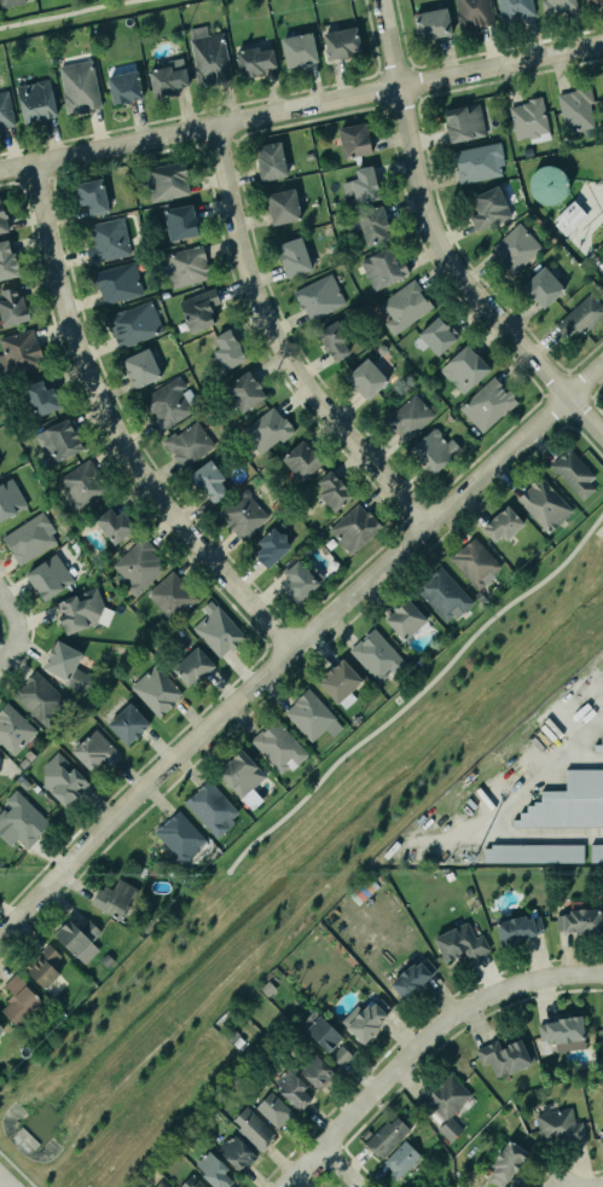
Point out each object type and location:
building: (592, 1)
building: (10, 2)
building: (558, 6)
building: (515, 8)
building: (471, 12)
road: (62, 13)
park: (75, 15)
building: (433, 24)
road: (400, 33)
road: (370, 35)
park: (365, 37)
building: (340, 41)
building: (296, 48)
building: (207, 54)
building: (251, 59)
road: (410, 66)
road: (377, 71)
road: (370, 74)
building: (168, 77)
building: (77, 85)
building: (124, 87)
building: (36, 100)
road: (301, 106)
building: (574, 109)
building: (5, 110)
building: (528, 118)
building: (464, 122)
building: (354, 140)
building: (268, 160)
building: (477, 162)
building: (166, 181)
building: (363, 184)
building: (547, 185)
building: (92, 195)
building: (283, 207)
building: (488, 209)
building: (569, 218)
building: (2, 219)
building: (179, 220)
building: (369, 222)
building: (106, 239)
road: (439, 244)
building: (516, 248)
building: (294, 256)
building: (7, 261)
road: (595, 262)
building: (185, 264)
building: (383, 268)
building: (117, 283)
building: (543, 286)
building: (319, 296)
building: (11, 306)
building: (404, 306)
building: (197, 308)
building: (579, 315)
building: (134, 324)
building: (437, 335)
building: (332, 338)
road: (278, 344)
building: (227, 349)
building: (139, 366)
building: (464, 369)
building: (366, 378)
building: (244, 390)
building: (41, 398)
building: (486, 403)
building: (167, 404)
building: (406, 416)
road: (114, 428)
building: (267, 429)
building: (58, 441)
building: (189, 444)
building: (434, 451)
building: (301, 461)
building: (574, 475)
building: (209, 481)
building: (81, 484)
building: (332, 490)
building: (8, 498)
building: (544, 504)
building: (240, 513)
building: (500, 523)
building: (114, 525)
building: (353, 527)
building: (27, 537)
building: (269, 546)
building: (475, 562)
building: (138, 567)
building: (47, 577)
building: (297, 579)
building: (442, 593)
building: (172, 596)
building: (82, 610)
road: (11, 614)
building: (404, 618)
building: (218, 630)
road: (296, 641)
road: (8, 647)
building: (376, 655)
building: (66, 666)
building: (192, 666)
building: (338, 682)
road: (599, 685)
building: (153, 689)
road: (417, 694)
building: (37, 697)
building: (309, 714)
building: (126, 723)
building: (13, 729)
building: (597, 743)
building: (278, 747)
building: (94, 749)
road: (559, 759)
road: (512, 762)
building: (1, 769)
building: (238, 772)
building: (63, 778)
building: (567, 800)
building: (211, 807)
building: (21, 821)
road: (517, 835)
building: (180, 836)
building: (595, 851)
building: (529, 852)
building: (112, 898)
building: (578, 920)
building: (518, 928)
building: (77, 938)
building: (458, 942)
building: (44, 967)
building: (410, 978)
building: (18, 1000)
building: (364, 1017)
building: (602, 1023)
building: (0, 1027)
building: (320, 1029)
building: (564, 1033)
road: (424, 1043)
building: (340, 1054)
building: (501, 1055)
building: (302, 1079)
building: (446, 1102)
building: (273, 1110)
building: (557, 1127)
building: (251, 1128)
building: (602, 1134)
building: (387, 1136)
building: (236, 1152)
building: (400, 1159)
building: (504, 1162)
road: (341, 1168)
building: (213, 1170)
road: (4, 1182)
building: (192, 1182)
road: (296, 1183)
building: (158, 1185)
building: (428, 1186)
road: (602, 1186)

